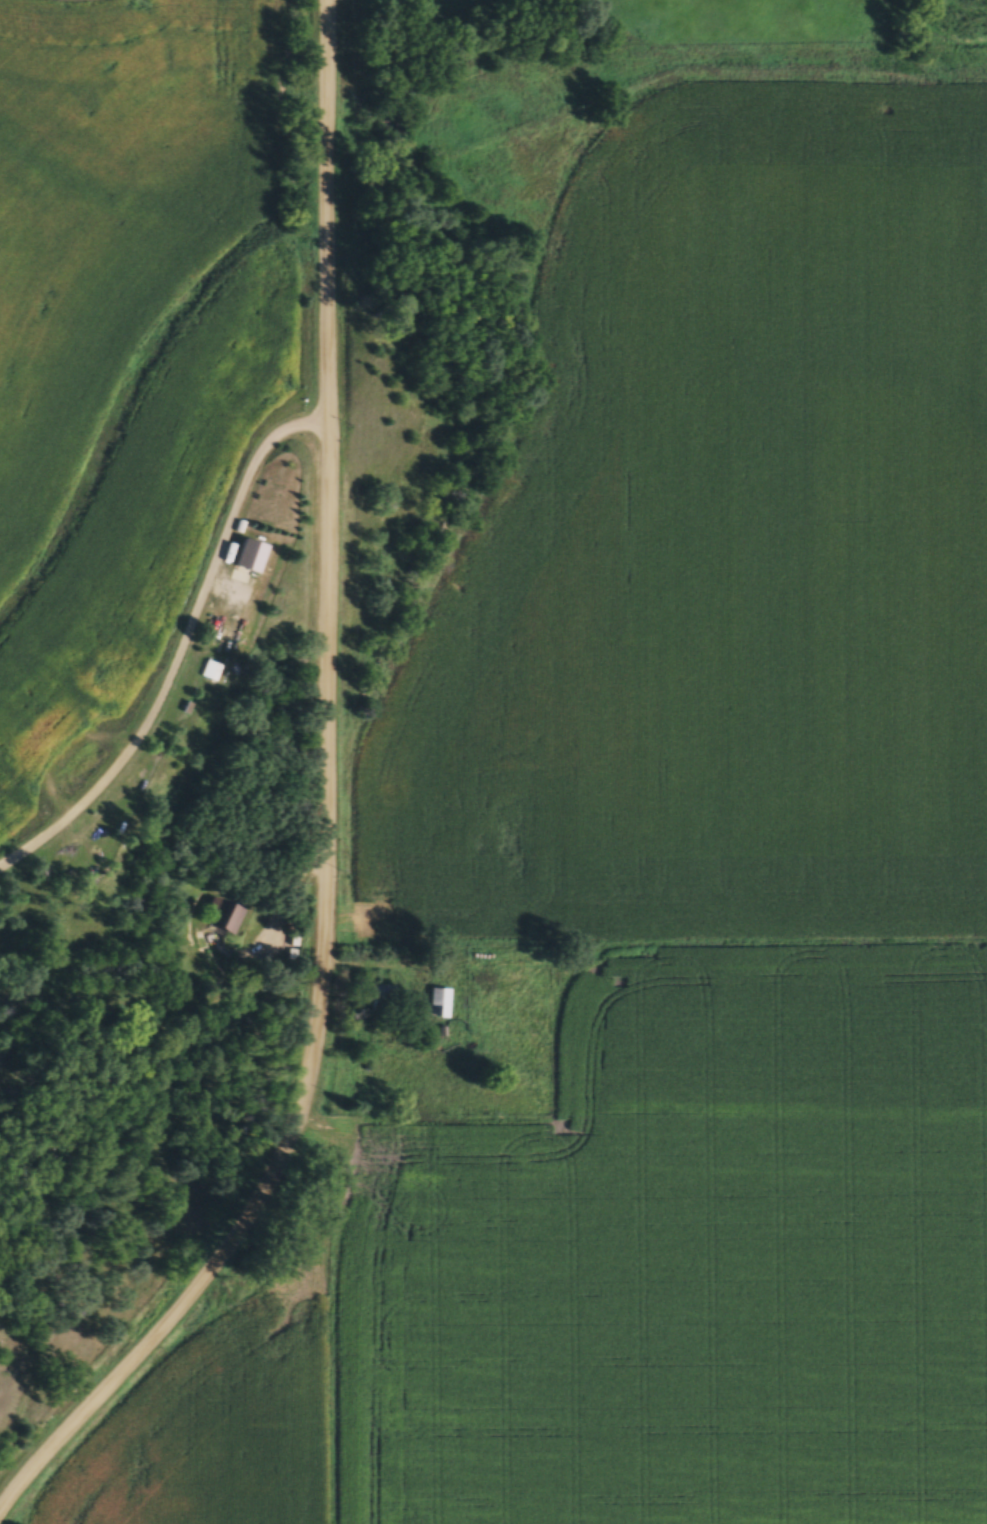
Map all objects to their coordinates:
road: (330, 473)
road: (179, 645)
road: (268, 1194)

